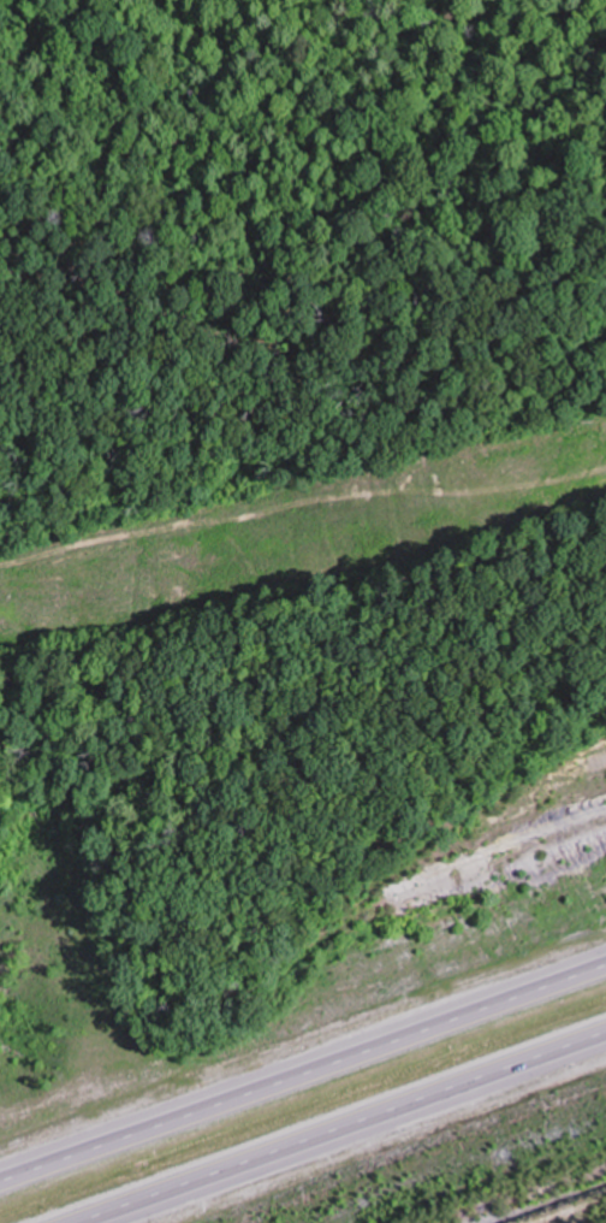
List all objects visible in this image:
road: (303, 1069)
road: (349, 1130)

